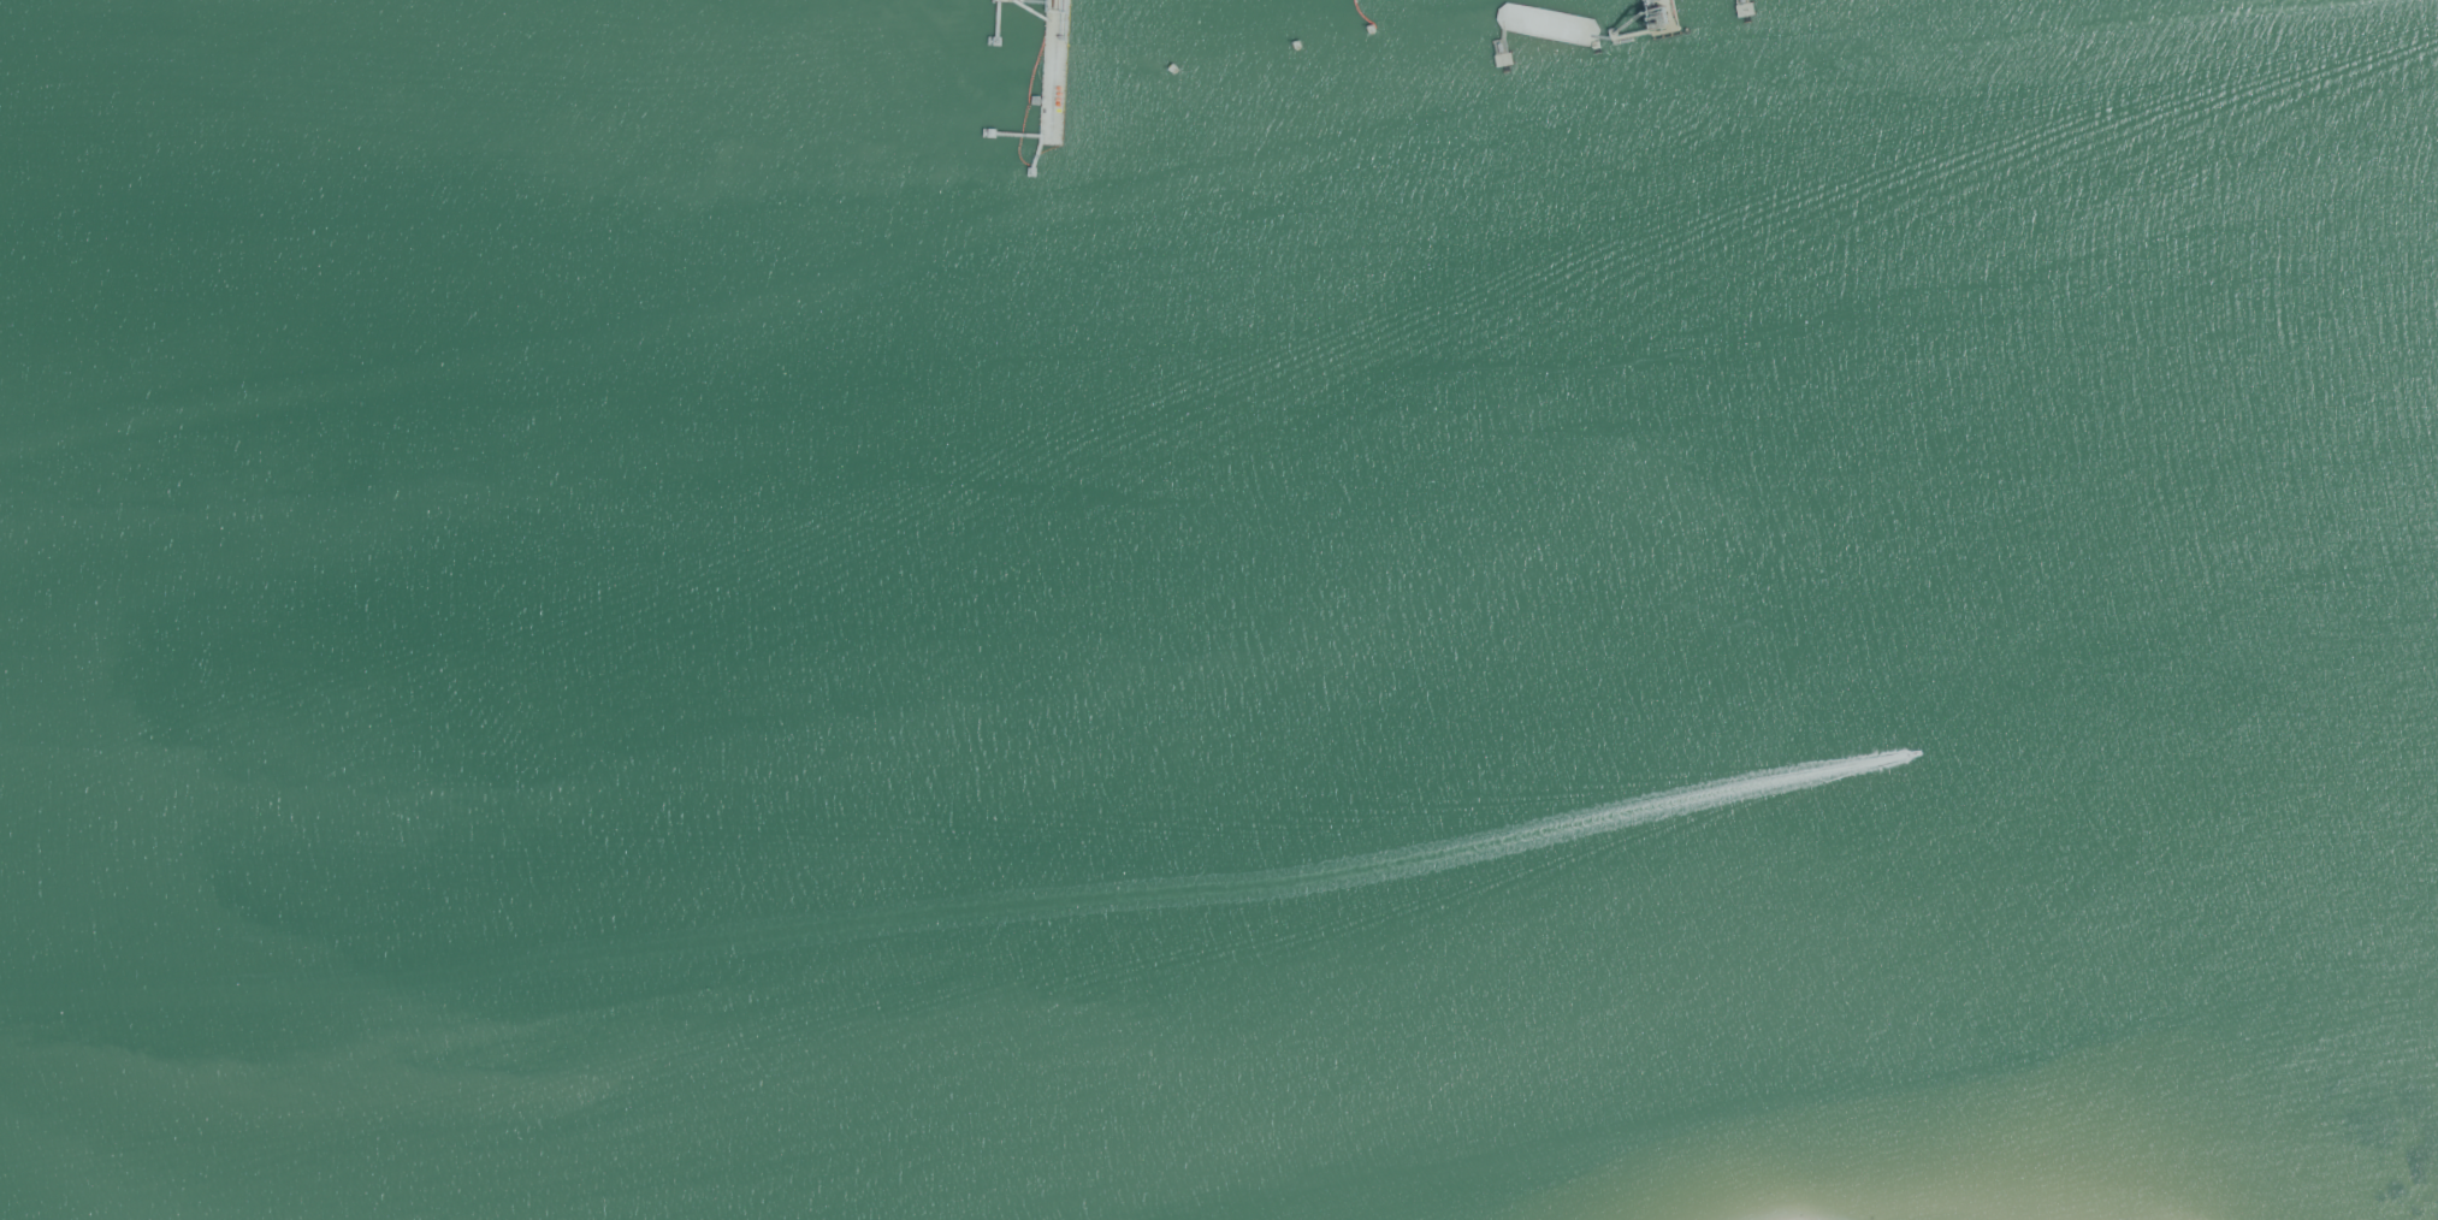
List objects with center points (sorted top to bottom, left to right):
pier: (1744, 8)
pier: (1653, 20)
pier: (1052, 71)

